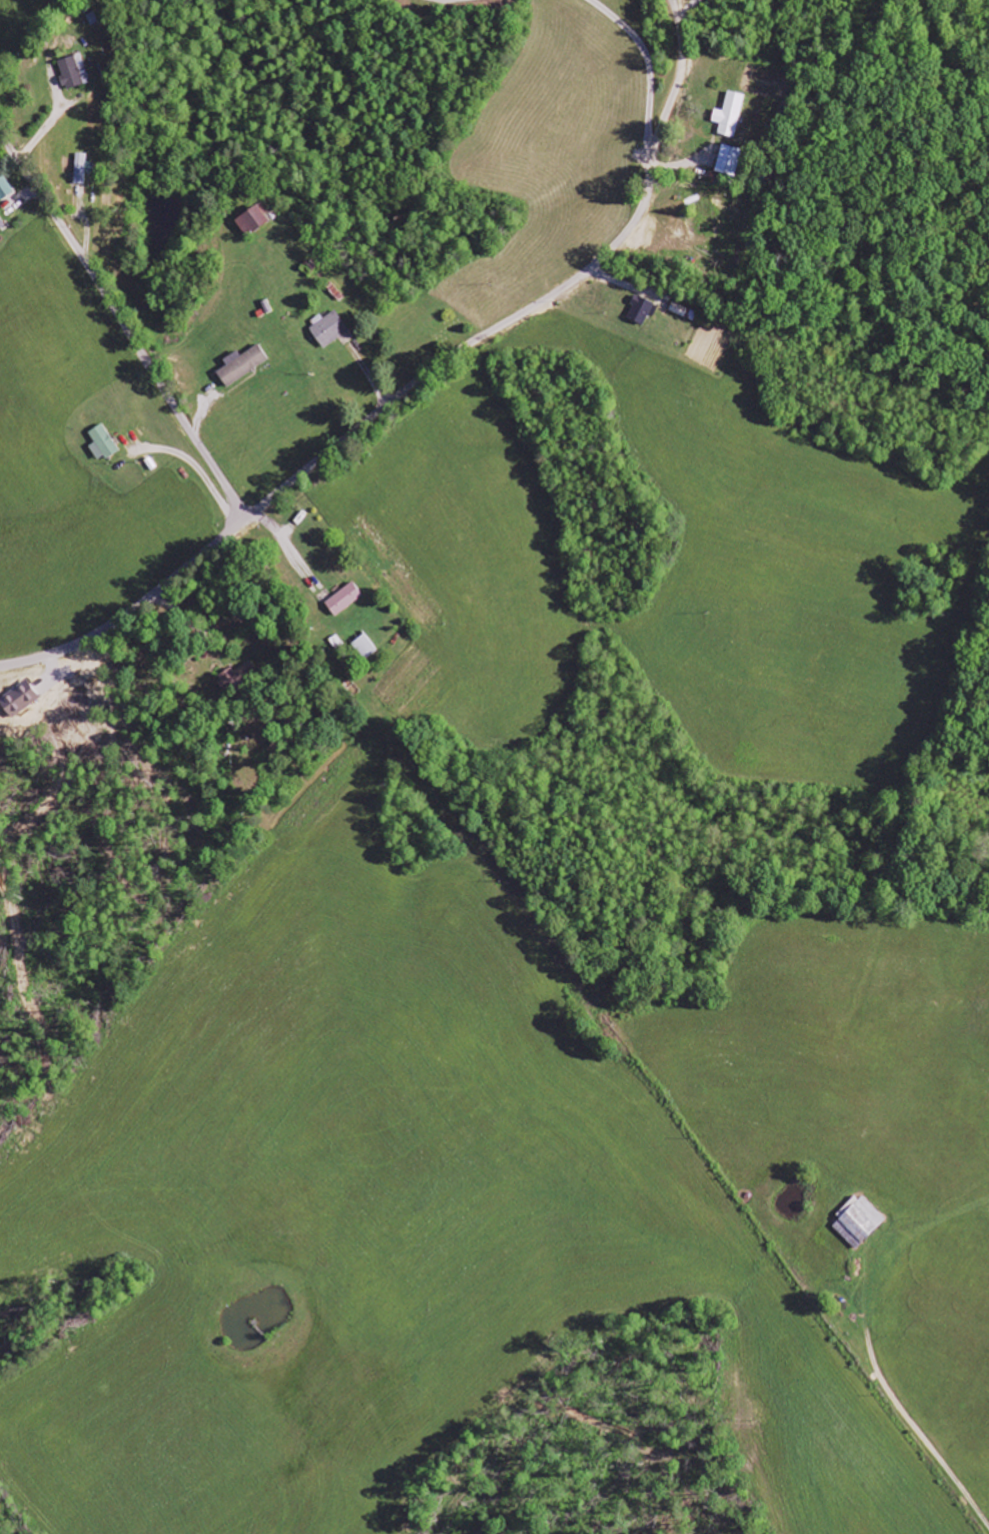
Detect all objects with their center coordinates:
building: (70, 74)
building: (729, 115)
building: (728, 160)
building: (82, 168)
building: (5, 189)
building: (251, 220)
building: (1, 223)
building: (640, 310)
road: (120, 325)
building: (328, 329)
building: (240, 365)
road: (410, 381)
building: (101, 443)
building: (343, 599)
building: (235, 676)

